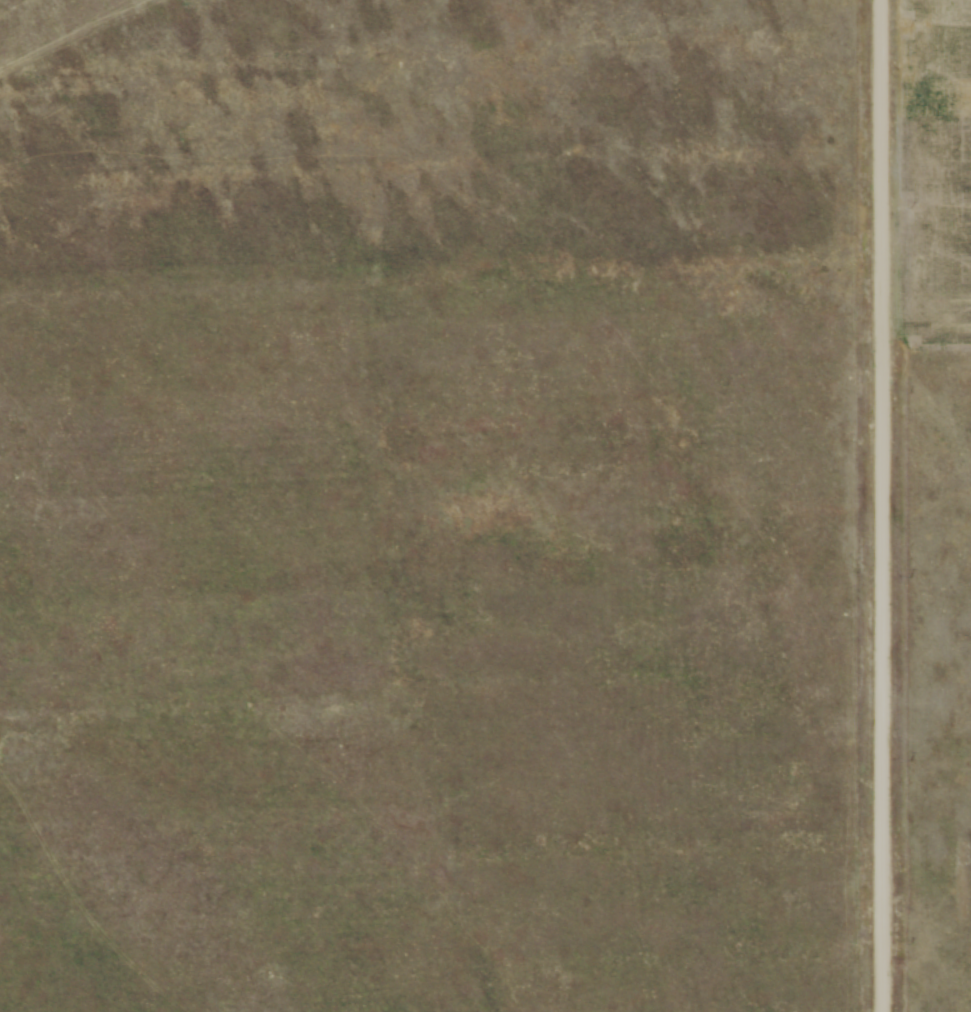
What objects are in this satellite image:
crop: (937, 174)
road: (882, 505)

